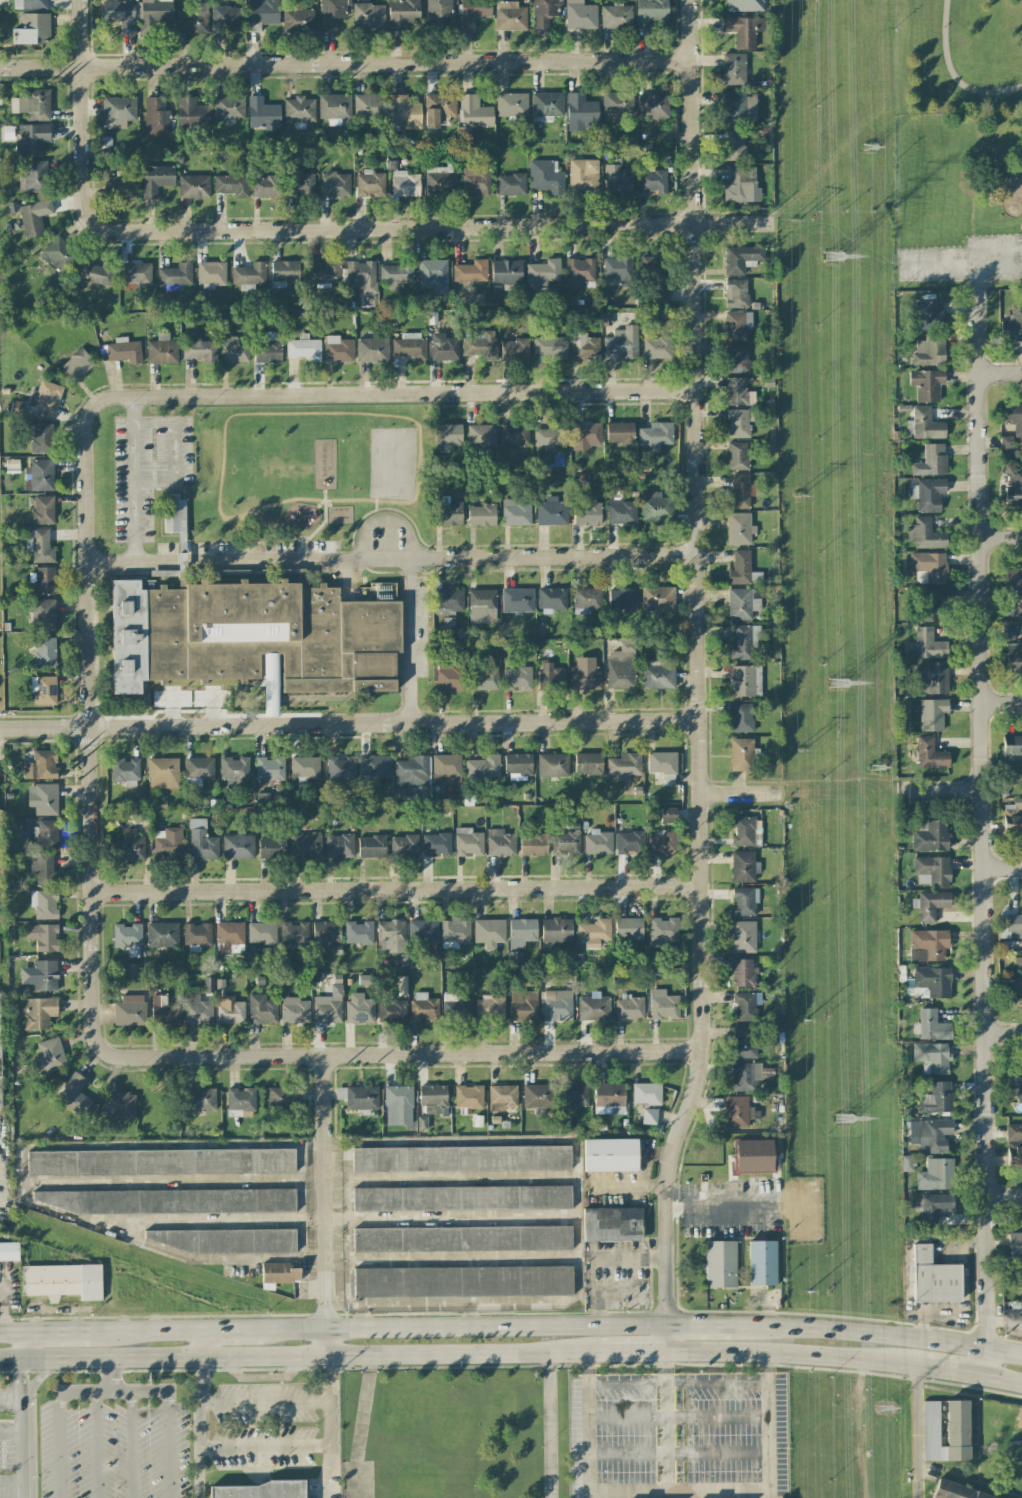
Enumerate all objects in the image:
building: (30, 4)
building: (743, 5)
building: (439, 10)
building: (473, 12)
building: (545, 12)
building: (650, 12)
building: (153, 13)
building: (262, 13)
building: (331, 13)
building: (120, 14)
building: (403, 14)
building: (580, 15)
building: (368, 16)
building: (510, 16)
building: (616, 17)
building: (192, 19)
building: (227, 19)
building: (298, 20)
building: (32, 29)
building: (743, 30)
road: (77, 34)
park: (957, 57)
road: (345, 65)
building: (733, 69)
road: (950, 76)
building: (617, 103)
building: (511, 104)
building: (547, 104)
building: (33, 105)
building: (652, 105)
building: (229, 107)
building: (368, 107)
building: (739, 107)
building: (334, 108)
building: (439, 108)
building: (299, 110)
building: (118, 111)
building: (403, 112)
building: (580, 112)
building: (193, 113)
building: (474, 113)
building: (263, 114)
building: (156, 117)
building: (32, 139)
building: (734, 145)
power tower: (868, 146)
building: (35, 176)
building: (546, 176)
building: (583, 176)
building: (156, 179)
building: (440, 180)
building: (617, 180)
building: (475, 181)
building: (652, 181)
building: (299, 183)
building: (405, 183)
building: (335, 184)
building: (370, 184)
building: (511, 184)
building: (231, 185)
building: (741, 185)
building: (193, 186)
building: (266, 186)
building: (119, 188)
park: (958, 202)
building: (33, 217)
power tower: (792, 218)
road: (353, 229)
building: (59, 254)
power tower: (832, 256)
road: (1019, 257)
building: (741, 259)
road: (957, 260)
building: (649, 265)
building: (617, 267)
building: (284, 271)
building: (470, 271)
building: (506, 272)
building: (136, 273)
building: (211, 273)
building: (325, 273)
building: (397, 273)
building: (579, 273)
building: (96, 274)
building: (175, 274)
building: (249, 274)
building: (542, 274)
road: (975, 275)
building: (360, 276)
building: (432, 276)
building: (736, 293)
building: (661, 294)
building: (926, 315)
building: (1012, 324)
building: (737, 325)
building: (622, 342)
building: (410, 346)
building: (481, 346)
building: (550, 346)
building: (584, 346)
building: (444, 347)
building: (657, 348)
building: (304, 349)
building: (337, 349)
building: (514, 349)
building: (124, 350)
building: (162, 350)
building: (200, 350)
building: (234, 350)
building: (372, 350)
building: (929, 350)
building: (737, 358)
building: (77, 364)
road: (1000, 371)
building: (926, 384)
building: (738, 392)
road: (388, 394)
building: (47, 397)
building: (1014, 417)
building: (737, 423)
building: (926, 425)
building: (620, 432)
building: (514, 434)
building: (655, 434)
building: (481, 435)
building: (585, 435)
building: (448, 437)
building: (549, 437)
building: (41, 438)
building: (1005, 442)
road: (173, 451)
building: (737, 455)
building: (931, 460)
building: (12, 465)
building: (1007, 467)
building: (39, 475)
road: (131, 479)
building: (1014, 490)
building: (739, 491)
building: (927, 494)
power tower: (797, 495)
building: (655, 507)
building: (43, 509)
building: (551, 512)
building: (621, 512)
building: (447, 513)
building: (516, 513)
building: (587, 513)
building: (174, 515)
building: (481, 515)
road: (387, 518)
building: (739, 529)
building: (925, 533)
road: (1001, 535)
building: (40, 546)
road: (390, 558)
building: (930, 566)
building: (743, 569)
building: (43, 580)
building: (587, 598)
building: (657, 598)
building: (517, 600)
building: (552, 600)
building: (622, 600)
building: (449, 601)
building: (741, 604)
building: (931, 604)
building: (482, 606)
building: (42, 614)
building: (252, 636)
road: (411, 640)
building: (743, 641)
building: (928, 644)
building: (44, 651)
building: (1013, 651)
building: (621, 666)
building: (585, 674)
building: (658, 674)
building: (448, 676)
building: (551, 677)
building: (932, 677)
building: (517, 678)
road: (698, 678)
building: (483, 679)
building: (745, 681)
power tower: (836, 683)
building: (43, 690)
road: (1002, 699)
building: (932, 714)
building: (741, 717)
road: (349, 723)
road: (89, 733)
power tower: (799, 747)
building: (1013, 748)
building: (741, 754)
building: (930, 754)
building: (661, 762)
building: (588, 763)
building: (41, 765)
building: (552, 765)
building: (624, 765)
power tower: (871, 765)
building: (375, 766)
building: (518, 766)
building: (304, 767)
building: (482, 768)
building: (446, 769)
building: (234, 770)
building: (269, 770)
building: (340, 770)
building: (124, 771)
building: (198, 771)
building: (411, 771)
building: (162, 773)
building: (668, 780)
road: (944, 790)
road: (739, 792)
building: (400, 796)
building: (262, 798)
building: (42, 799)
building: (668, 815)
building: (1012, 816)
building: (746, 830)
building: (47, 833)
road: (983, 834)
building: (930, 836)
building: (167, 841)
building: (201, 841)
building: (629, 841)
building: (468, 842)
building: (564, 842)
building: (597, 842)
building: (663, 842)
building: (0, 843)
building: (500, 843)
building: (436, 844)
building: (533, 844)
building: (131, 845)
building: (339, 845)
building: (404, 845)
building: (238, 846)
building: (305, 846)
building: (371, 846)
building: (271, 847)
building: (744, 867)
road: (1002, 868)
building: (43, 869)
building: (931, 871)
road: (395, 888)
building: (744, 901)
building: (44, 904)
building: (930, 905)
building: (1010, 925)
building: (628, 929)
building: (557, 930)
building: (423, 931)
building: (326, 932)
building: (358, 932)
building: (455, 932)
building: (489, 932)
building: (522, 932)
building: (594, 932)
building: (662, 932)
building: (261, 933)
building: (294, 933)
building: (162, 934)
building: (127, 935)
building: (230, 935)
building: (196, 936)
building: (390, 936)
building: (43, 937)
building: (743, 937)
building: (928, 944)
building: (515, 957)
building: (743, 973)
building: (45, 975)
building: (933, 981)
building: (208, 984)
building: (401, 986)
building: (523, 1005)
building: (557, 1005)
building: (663, 1005)
building: (745, 1006)
building: (423, 1007)
building: (594, 1007)
building: (359, 1008)
building: (489, 1008)
building: (629, 1008)
building: (261, 1009)
building: (326, 1009)
building: (456, 1009)
building: (130, 1010)
building: (197, 1010)
building: (229, 1010)
building: (294, 1010)
building: (391, 1010)
building: (163, 1011)
building: (37, 1012)
power tower: (805, 1020)
road: (1003, 1033)
building: (744, 1042)
road: (406, 1052)
building: (48, 1056)
building: (931, 1057)
building: (0, 1061)
building: (745, 1076)
building: (1019, 1090)
building: (74, 1092)
building: (646, 1093)
building: (574, 1095)
building: (468, 1096)
building: (537, 1096)
building: (361, 1097)
building: (502, 1097)
building: (283, 1098)
building: (609, 1098)
building: (936, 1098)
building: (203, 1099)
building: (433, 1099)
building: (119, 1104)
building: (398, 1105)
building: (739, 1112)
building: (649, 1116)
power tower: (843, 1119)
building: (422, 1123)
building: (929, 1135)
road: (297, 1142)
building: (1014, 1145)
building: (610, 1155)
building: (753, 1156)
building: (461, 1158)
building: (160, 1161)
road: (19, 1173)
building: (936, 1175)
road: (299, 1179)
road: (632, 1185)
road: (712, 1191)
building: (461, 1198)
road: (1004, 1200)
building: (163, 1201)
road: (326, 1205)
building: (934, 1207)
road: (723, 1218)
road: (331, 1219)
road: (350, 1222)
building: (611, 1224)
road: (106, 1230)
building: (462, 1238)
building: (219, 1240)
building: (1015, 1246)
building: (9, 1251)
road: (386, 1258)
road: (601, 1258)
building: (761, 1263)
building: (721, 1264)
building: (281, 1273)
building: (933, 1278)
building: (62, 1281)
building: (462, 1281)
power tower: (807, 1293)
road: (545, 1299)
road: (702, 1322)
road: (466, 1323)
road: (230, 1327)
road: (143, 1329)
road: (56, 1332)
road: (11, 1333)
road: (879, 1333)
road: (22, 1347)
road: (634, 1351)
road: (794, 1354)
road: (300, 1357)
road: (952, 1372)
road: (112, 1375)
road: (261, 1378)
road: (1002, 1382)
road: (678, 1383)
road: (113, 1391)
road: (11, 1395)
road: (264, 1401)
road: (330, 1402)
power tower: (885, 1407)
road: (199, 1412)
road: (678, 1416)
building: (1019, 1418)
building: (957, 1423)
road: (767, 1424)
road: (550, 1425)
road: (589, 1425)
road: (360, 1426)
road: (23, 1428)
road: (863, 1428)
road: (916, 1432)
road: (96, 1444)
road: (132, 1444)
road: (267, 1449)
road: (678, 1452)
road: (336, 1473)
flagpole: (269, 1474)
road: (12, 1483)
building: (263, 1492)
road: (679, 1492)
building: (953, 1492)

